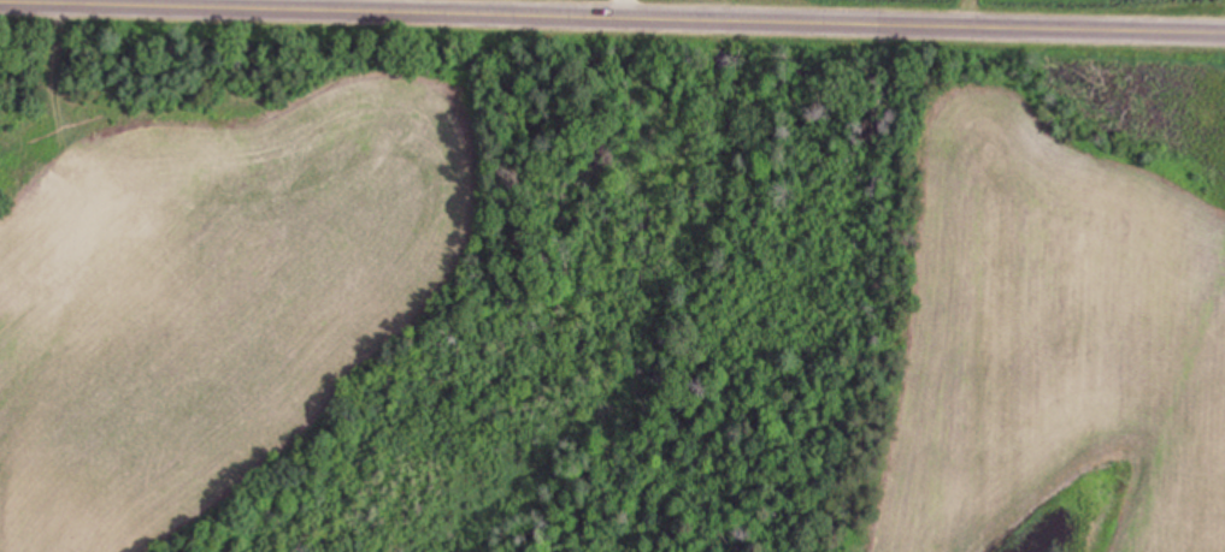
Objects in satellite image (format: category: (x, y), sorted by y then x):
road: (635, 7)
road: (673, 16)
crop: (222, 302)
crop: (1060, 351)

